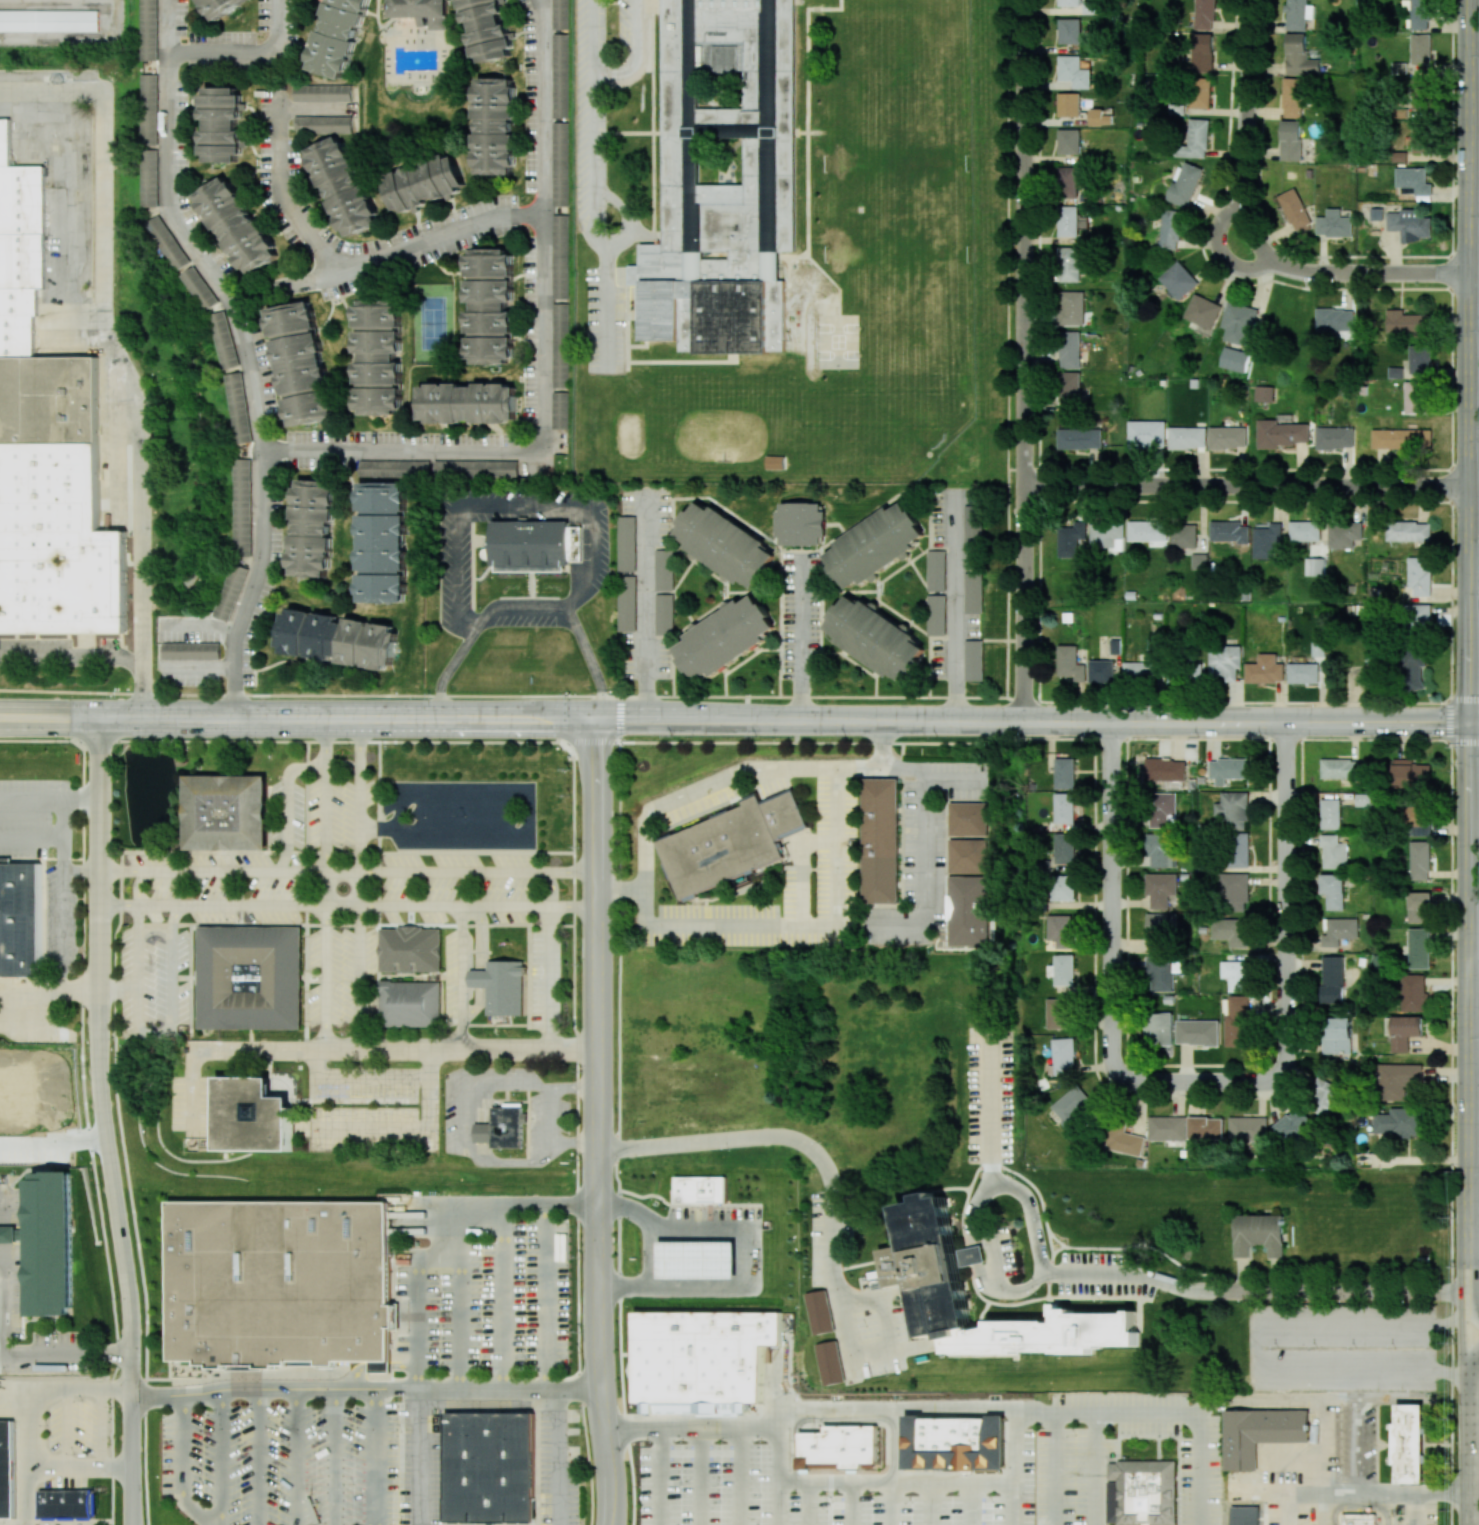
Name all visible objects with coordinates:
building: (1068, 2)
building: (1089, 6)
building: (220, 7)
building: (424, 11)
building: (560, 14)
building: (1204, 14)
building: (1298, 14)
building: (1420, 14)
building: (49, 19)
building: (488, 28)
building: (149, 30)
building: (1069, 30)
road: (592, 33)
building: (336, 36)
building: (1420, 49)
building: (1202, 52)
road: (242, 54)
road: (635, 55)
building: (1299, 56)
building: (1073, 72)
building: (560, 75)
road: (1475, 76)
parking lot: (598, 91)
building: (323, 93)
building: (1200, 93)
building: (1418, 93)
building: (1293, 97)
building: (1068, 104)
road: (539, 106)
building: (149, 109)
building: (1177, 109)
building: (1095, 116)
building: (221, 124)
building: (323, 124)
building: (495, 127)
road: (592, 128)
road: (1246, 132)
building: (1420, 136)
building: (1195, 140)
building: (1290, 140)
building: (1069, 141)
building: (1399, 156)
park: (899, 162)
building: (561, 164)
road: (277, 165)
building: (149, 177)
building: (730, 177)
building: (1414, 181)
building: (424, 182)
building: (1067, 182)
building: (344, 185)
building: (1185, 185)
building: (1093, 195)
building: (1296, 211)
road: (629, 214)
road: (590, 221)
building: (1067, 221)
building: (1335, 224)
building: (1409, 224)
building: (236, 225)
building: (1170, 229)
building: (167, 243)
park: (899, 248)
road: (1220, 251)
building: (561, 256)
road: (1363, 256)
building: (1070, 264)
road: (1475, 268)
road: (1368, 273)
building: (638, 274)
building: (1178, 281)
building: (198, 288)
building: (491, 306)
road: (541, 306)
road: (609, 306)
building: (1072, 308)
building: (1203, 311)
building: (1335, 319)
parking lot: (607, 322)
building: (1408, 322)
park: (431, 323)
building: (1239, 323)
building: (224, 339)
park: (838, 341)
park: (917, 341)
building: (560, 344)
building: (1070, 349)
road: (116, 352)
road: (243, 352)
building: (378, 356)
road: (1023, 360)
building: (1235, 360)
building: (1420, 360)
road: (1470, 361)
building: (300, 362)
building: (1396, 372)
building: (1194, 383)
building: (1069, 388)
building: (1265, 393)
building: (1415, 396)
building: (468, 403)
building: (238, 407)
building: (561, 410)
building: (1281, 433)
park: (627, 434)
park: (721, 434)
building: (1146, 434)
building: (1187, 437)
building: (1228, 437)
building: (1335, 437)
building: (1079, 438)
building: (1401, 439)
building: (47, 446)
building: (775, 463)
building: (394, 468)
building: (476, 468)
road: (1246, 485)
road: (516, 504)
building: (243, 507)
road: (725, 511)
road: (876, 511)
parking lot: (649, 514)
parking lot: (952, 514)
building: (800, 523)
building: (975, 523)
road: (837, 524)
building: (312, 526)
building: (1147, 530)
building: (1304, 530)
building: (1228, 531)
building: (1408, 531)
road: (757, 533)
building: (1344, 534)
building: (1106, 536)
building: (1183, 536)
building: (1070, 539)
building: (382, 541)
building: (1267, 542)
building: (627, 544)
building: (726, 544)
building: (874, 544)
building: (536, 545)
road: (1006, 554)
road: (693, 556)
road: (907, 557)
building: (1199, 561)
road: (473, 565)
parking lot: (454, 566)
building: (1315, 566)
building: (664, 569)
road: (705, 569)
building: (938, 569)
road: (485, 572)
building: (1420, 576)
road: (465, 578)
road: (724, 578)
road: (875, 579)
road: (780, 581)
road: (532, 589)
road: (672, 590)
road: (848, 590)
building: (230, 591)
road: (660, 591)
road: (752, 591)
road: (929, 592)
road: (943, 592)
building: (974, 593)
road: (529, 597)
building: (627, 603)
road: (724, 603)
road: (876, 604)
road: (648, 607)
road: (527, 608)
road: (957, 610)
building: (664, 613)
building: (938, 614)
parking lot: (800, 615)
parking lot: (525, 620)
building: (1419, 620)
road: (694, 625)
road: (907, 625)
road: (914, 626)
parking lot: (973, 626)
building: (875, 637)
building: (337, 638)
building: (725, 638)
road: (996, 639)
road: (801, 642)
building: (1114, 646)
road: (757, 648)
building: (191, 650)
road: (843, 651)
parking lot: (645, 655)
parking lot: (939, 658)
building: (974, 660)
building: (1225, 661)
road: (71, 662)
building: (1070, 663)
building: (1310, 667)
building: (1413, 669)
road: (726, 670)
building: (1265, 670)
building: (1102, 671)
building: (1139, 671)
road: (875, 672)
building: (1357, 674)
road: (336, 695)
road: (734, 696)
road: (983, 697)
road: (297, 717)
traffic signals: (596, 719)
road: (1033, 721)
traffic signals: (1472, 723)
road: (1475, 723)
road: (279, 741)
road: (527, 741)
building: (1340, 768)
building: (1165, 769)
building: (1229, 769)
road: (745, 771)
building: (1065, 773)
building: (1410, 774)
road: (951, 778)
road: (49, 797)
road: (288, 802)
road: (530, 807)
building: (1065, 808)
building: (1163, 810)
building: (1234, 810)
building: (227, 812)
building: (1331, 813)
building: (969, 818)
building: (1417, 820)
road: (376, 827)
building: (880, 840)
road: (60, 841)
building: (731, 843)
building: (1064, 849)
building: (1161, 850)
building: (1238, 850)
road: (923, 851)
road: (345, 852)
building: (1334, 852)
building: (969, 855)
building: (1420, 860)
building: (1042, 865)
road: (347, 872)
road: (360, 883)
road: (326, 884)
building: (1063, 888)
building: (1160, 889)
building: (1333, 890)
building: (1235, 891)
road: (1112, 894)
road: (1287, 895)
building: (1037, 905)
road: (348, 906)
building: (1419, 907)
building: (970, 912)
building: (20, 918)
road: (779, 927)
building: (1161, 929)
road: (63, 930)
building: (1061, 930)
building: (1231, 931)
building: (1339, 931)
building: (1419, 948)
building: (410, 949)
road: (1475, 949)
road: (463, 959)
road: (554, 959)
building: (1062, 970)
building: (1160, 972)
building: (250, 977)
building: (1240, 977)
building: (1333, 979)
building: (501, 986)
road: (80, 990)
building: (1413, 992)
road: (31, 993)
road: (1475, 1000)
building: (410, 1003)
road: (1470, 1006)
building: (1060, 1013)
building: (1237, 1021)
road: (140, 1026)
building: (1160, 1029)
building: (1403, 1031)
building: (1197, 1032)
building: (1337, 1035)
road: (382, 1050)
building: (1063, 1057)
road: (372, 1075)
building: (1398, 1080)
road: (1199, 1083)
road: (83, 1096)
building: (1323, 1096)
road: (618, 1104)
building: (1072, 1108)
road: (193, 1110)
building: (253, 1115)
road: (471, 1118)
road: (552, 1118)
road: (104, 1121)
road: (597, 1122)
building: (1293, 1123)
building: (1399, 1123)
road: (397, 1128)
building: (501, 1128)
building: (1166, 1128)
building: (1206, 1128)
building: (1248, 1129)
building: (1124, 1141)
road: (52, 1142)
building: (701, 1189)
road: (1474, 1198)
road: (662, 1199)
road: (833, 1203)
road: (709, 1204)
parking lot: (713, 1213)
road: (444, 1233)
building: (1259, 1234)
road: (1474, 1241)
building: (48, 1243)
road: (654, 1255)
road: (745, 1256)
gas station: (697, 1258)
building: (697, 1260)
road: (981, 1263)
road: (1125, 1273)
building: (940, 1276)
building: (279, 1284)
road: (500, 1295)
road: (543, 1295)
road: (3, 1301)
road: (1472, 1302)
road: (455, 1304)
building: (822, 1311)
building: (1051, 1312)
road: (1466, 1332)
road: (1253, 1352)
road: (65, 1353)
building: (703, 1359)
building: (832, 1362)
road: (1473, 1363)
road: (365, 1388)
road: (1301, 1403)
road: (27, 1409)
road: (1121, 1410)
road: (827, 1412)
road: (1474, 1418)
building: (1260, 1433)
building: (955, 1443)
building: (1410, 1444)
road: (180, 1446)
building: (838, 1447)
road: (1469, 1450)
road: (257, 1456)
road: (294, 1456)
road: (334, 1456)
road: (374, 1456)
road: (419, 1456)
road: (558, 1456)
road: (220, 1457)
road: (79, 1467)
building: (489, 1467)
road: (1099, 1467)
building: (7, 1469)
road: (743, 1474)
road: (705, 1475)
road: (655, 1477)
road: (966, 1481)
road: (837, 1483)
road: (1474, 1492)
building: (1142, 1493)
road: (1362, 1493)
road: (1015, 1502)
building: (67, 1504)
road: (779, 1504)
road: (194, 1513)
building: (1246, 1516)
building: (1359, 1519)

